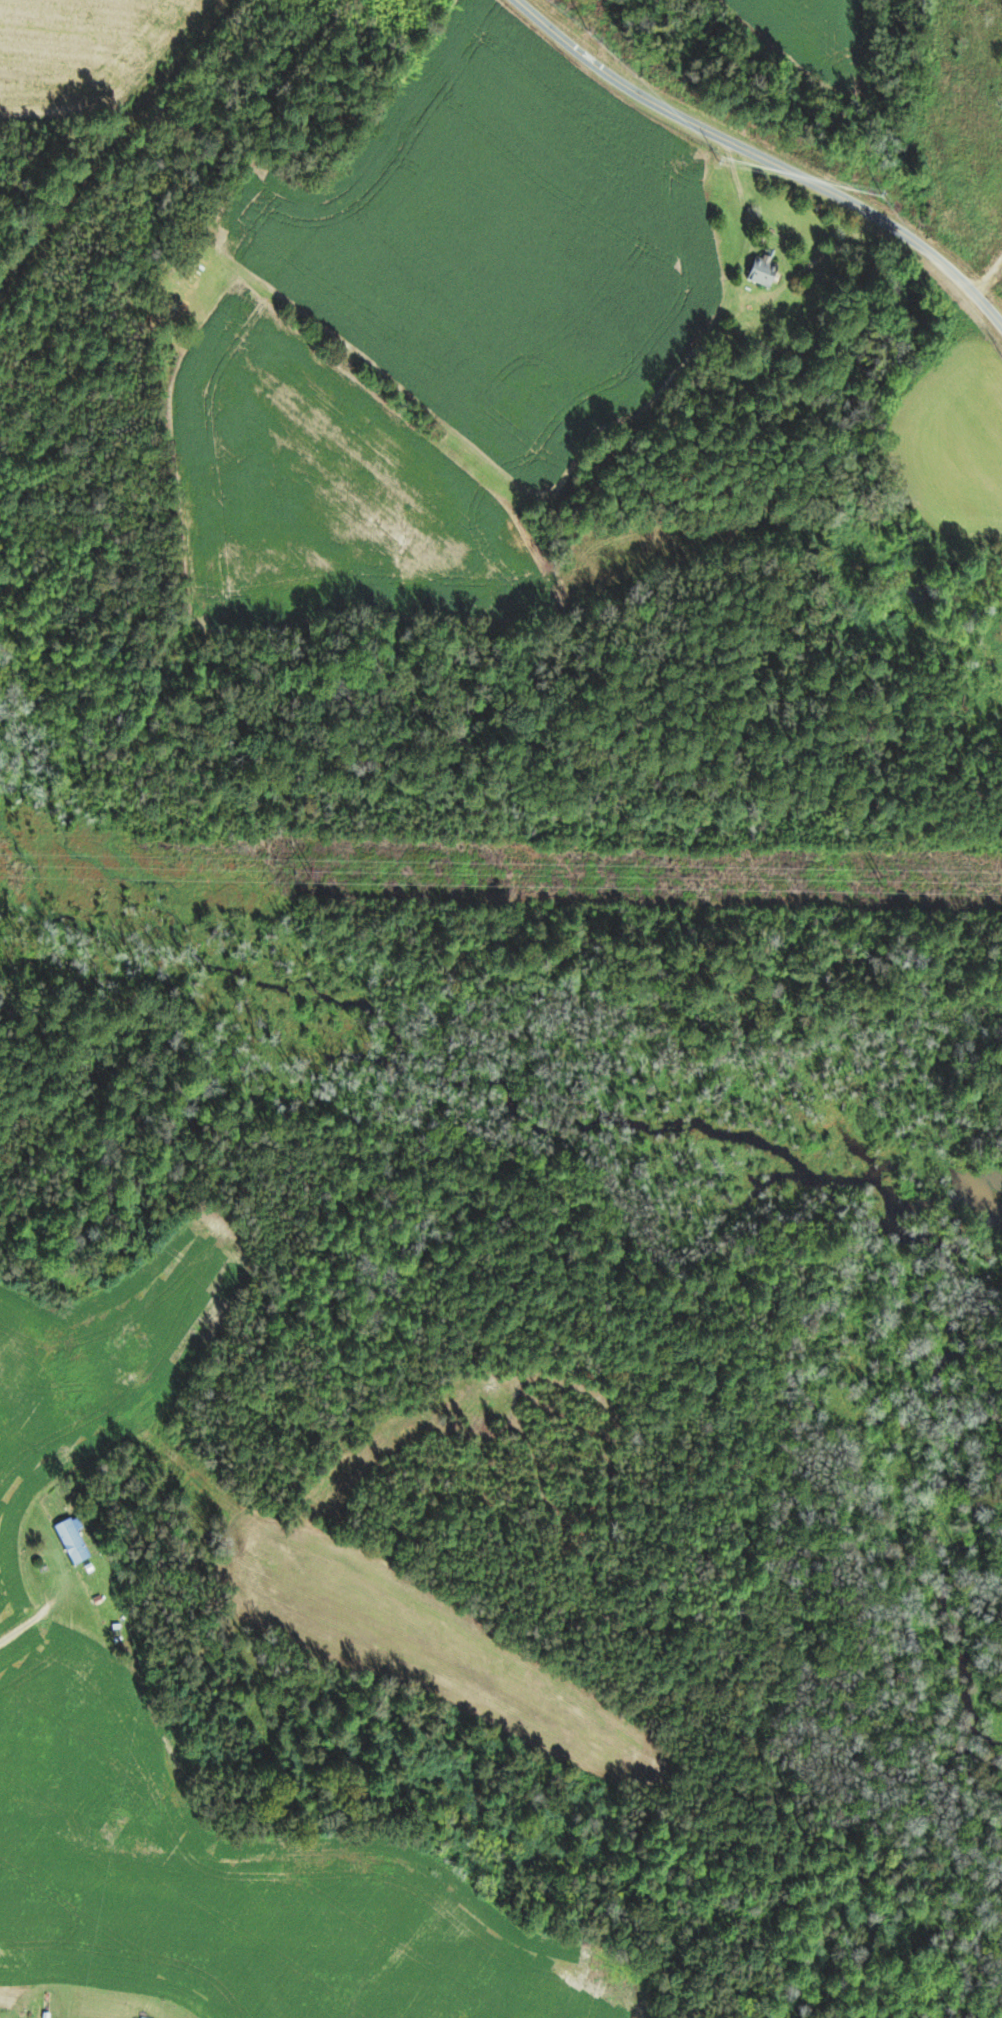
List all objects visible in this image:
railway: (113, 150)
road: (762, 157)
building: (769, 272)
power tower: (315, 871)
power tower: (886, 880)
building: (75, 1542)
road: (38, 1615)

